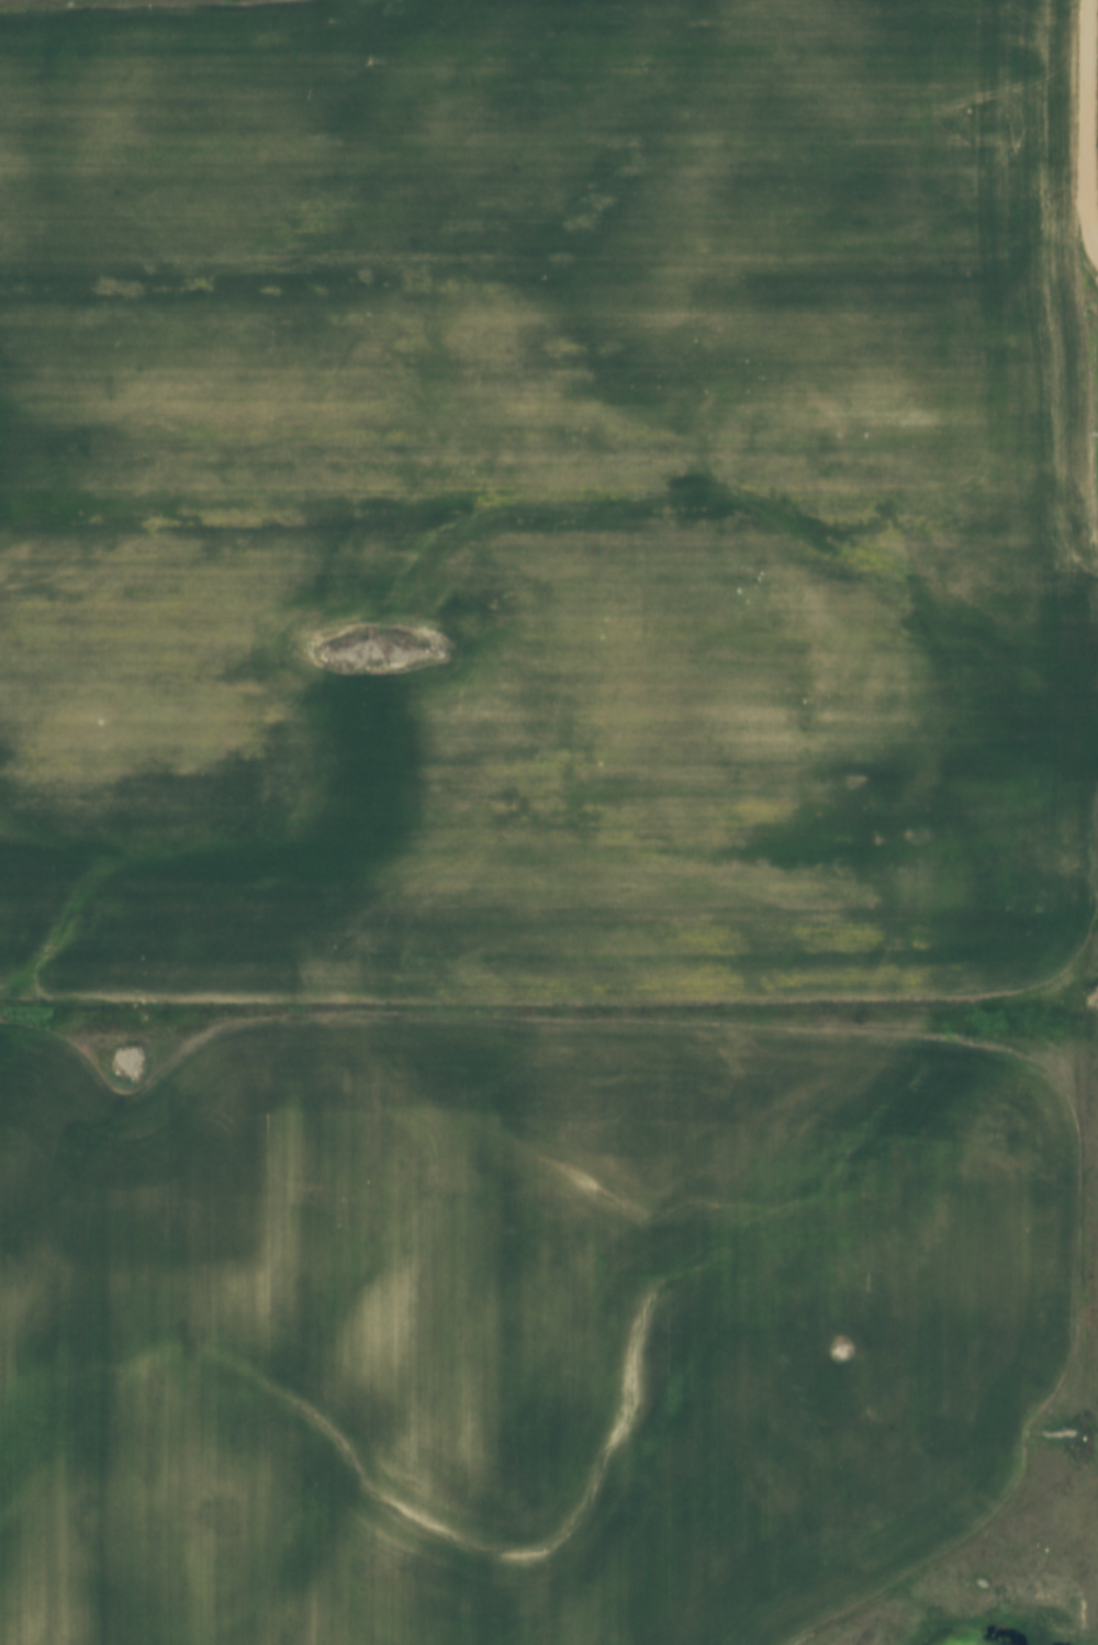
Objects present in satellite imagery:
road: (1085, 101)

